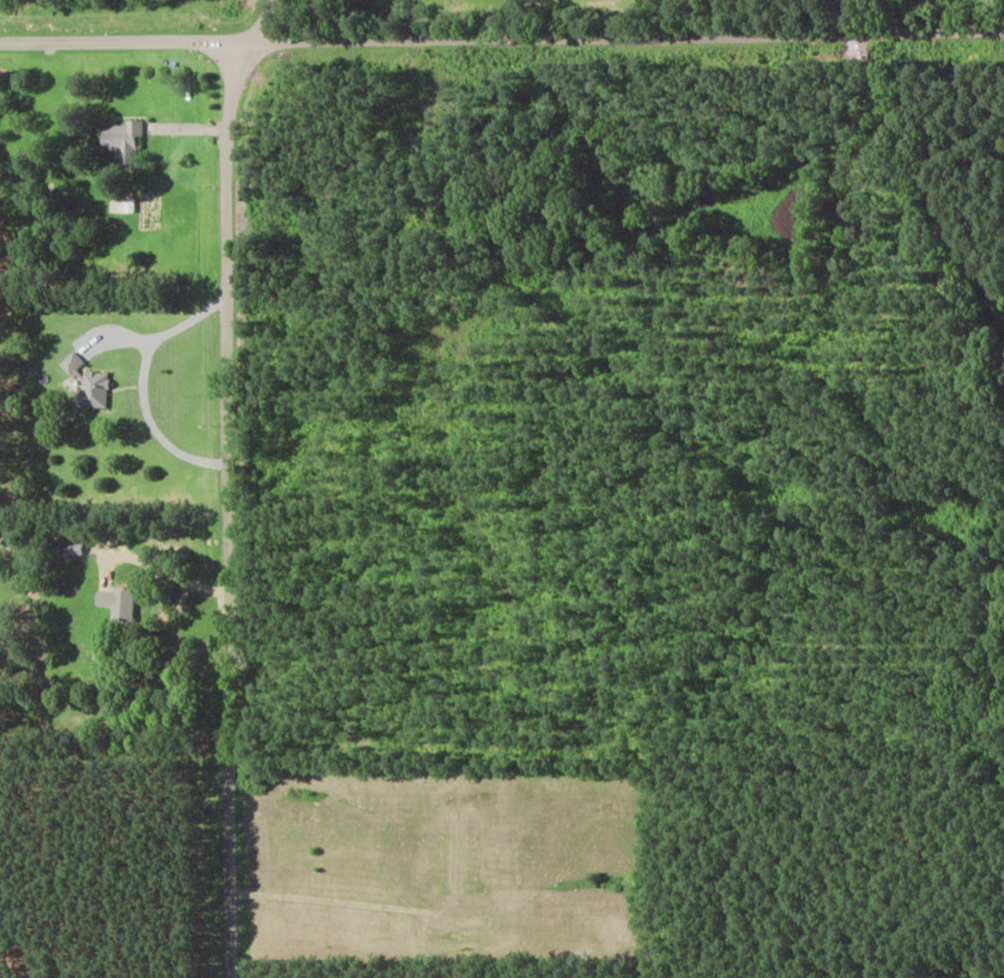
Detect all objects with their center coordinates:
road: (501, 36)
building: (122, 135)
building: (123, 204)
building: (71, 362)
building: (94, 389)
road: (226, 484)
building: (117, 602)

